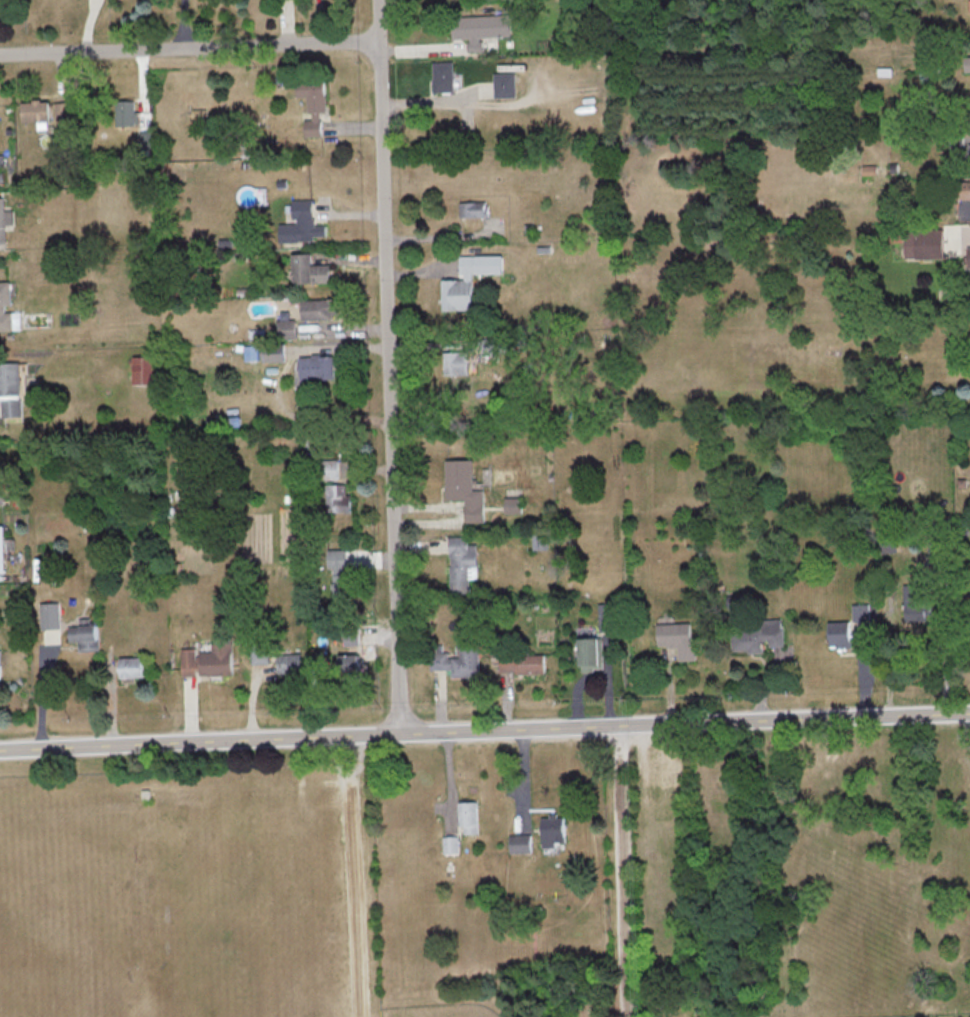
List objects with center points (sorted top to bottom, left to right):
road: (184, 24)
building: (479, 29)
road: (189, 48)
building: (966, 63)
building: (443, 76)
building: (504, 85)
building: (64, 111)
building: (36, 112)
building: (125, 112)
building: (870, 169)
building: (966, 189)
building: (472, 209)
building: (4, 222)
building: (300, 224)
building: (969, 257)
building: (309, 269)
building: (467, 280)
building: (5, 306)
building: (319, 308)
building: (286, 328)
building: (273, 353)
building: (454, 363)
road: (388, 366)
building: (315, 367)
building: (143, 370)
building: (12, 388)
building: (335, 469)
building: (0, 482)
building: (464, 488)
building: (337, 498)
building: (513, 505)
building: (539, 540)
building: (4, 546)
building: (462, 562)
building: (340, 575)
building: (915, 601)
building: (49, 614)
building: (604, 615)
building: (850, 628)
building: (761, 636)
building: (84, 637)
building: (677, 638)
road: (945, 644)
building: (591, 653)
building: (260, 654)
building: (208, 660)
building: (352, 661)
building: (459, 661)
building: (289, 663)
building: (522, 664)
building: (131, 667)
building: (0, 668)
road: (484, 729)
building: (469, 817)
building: (553, 830)
building: (451, 843)
building: (520, 843)
road: (624, 870)
road: (355, 875)
park: (245, 891)

